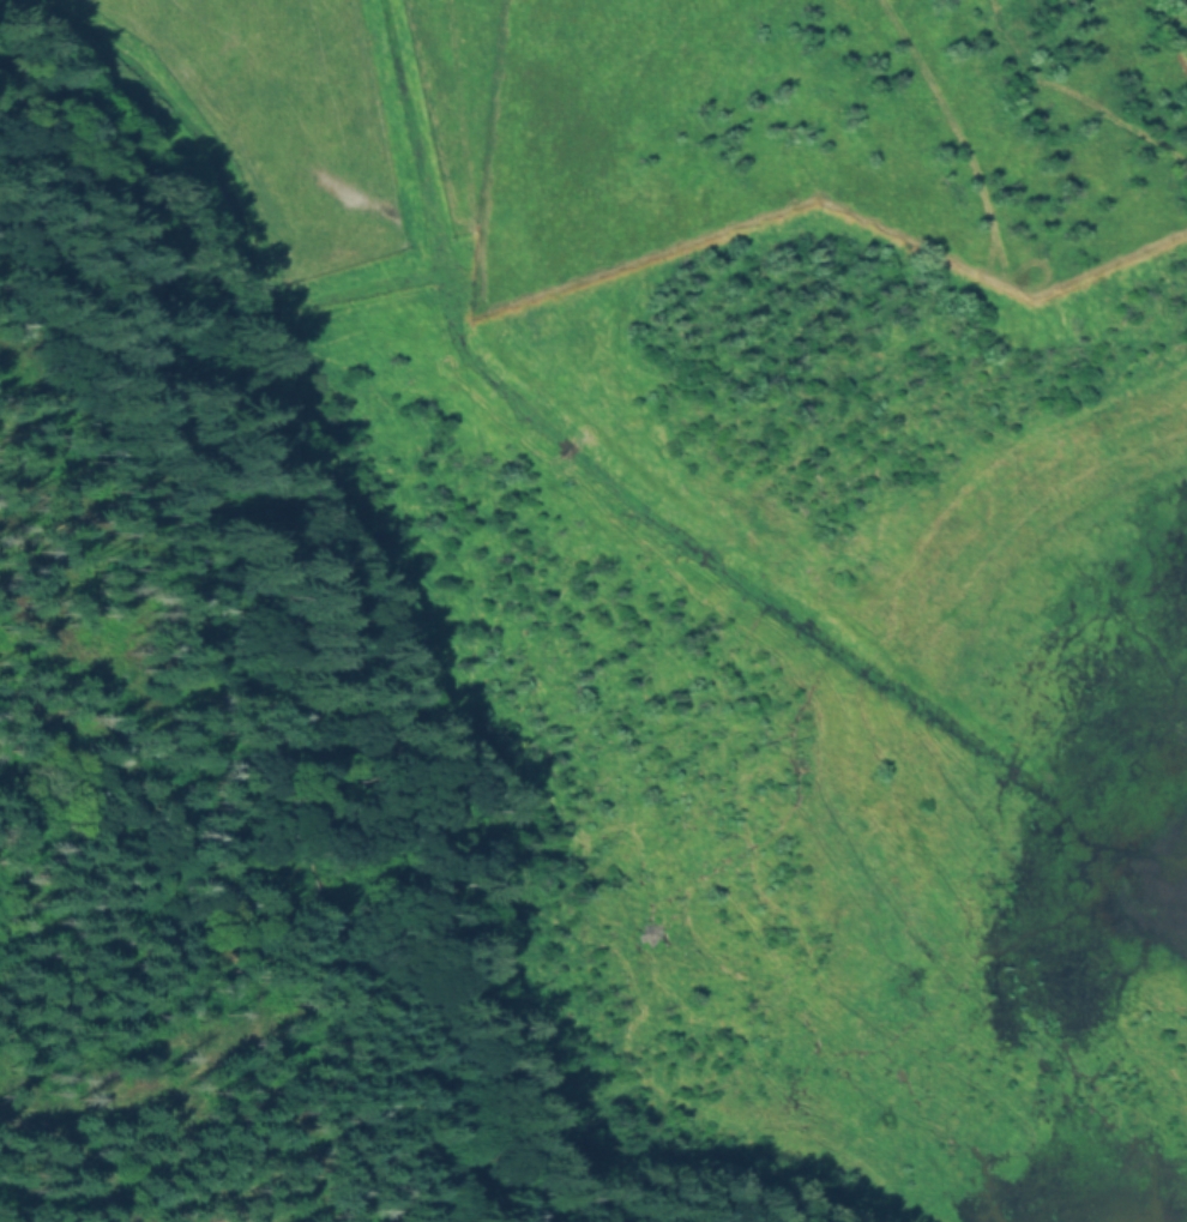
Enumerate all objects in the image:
road: (78, 1145)

